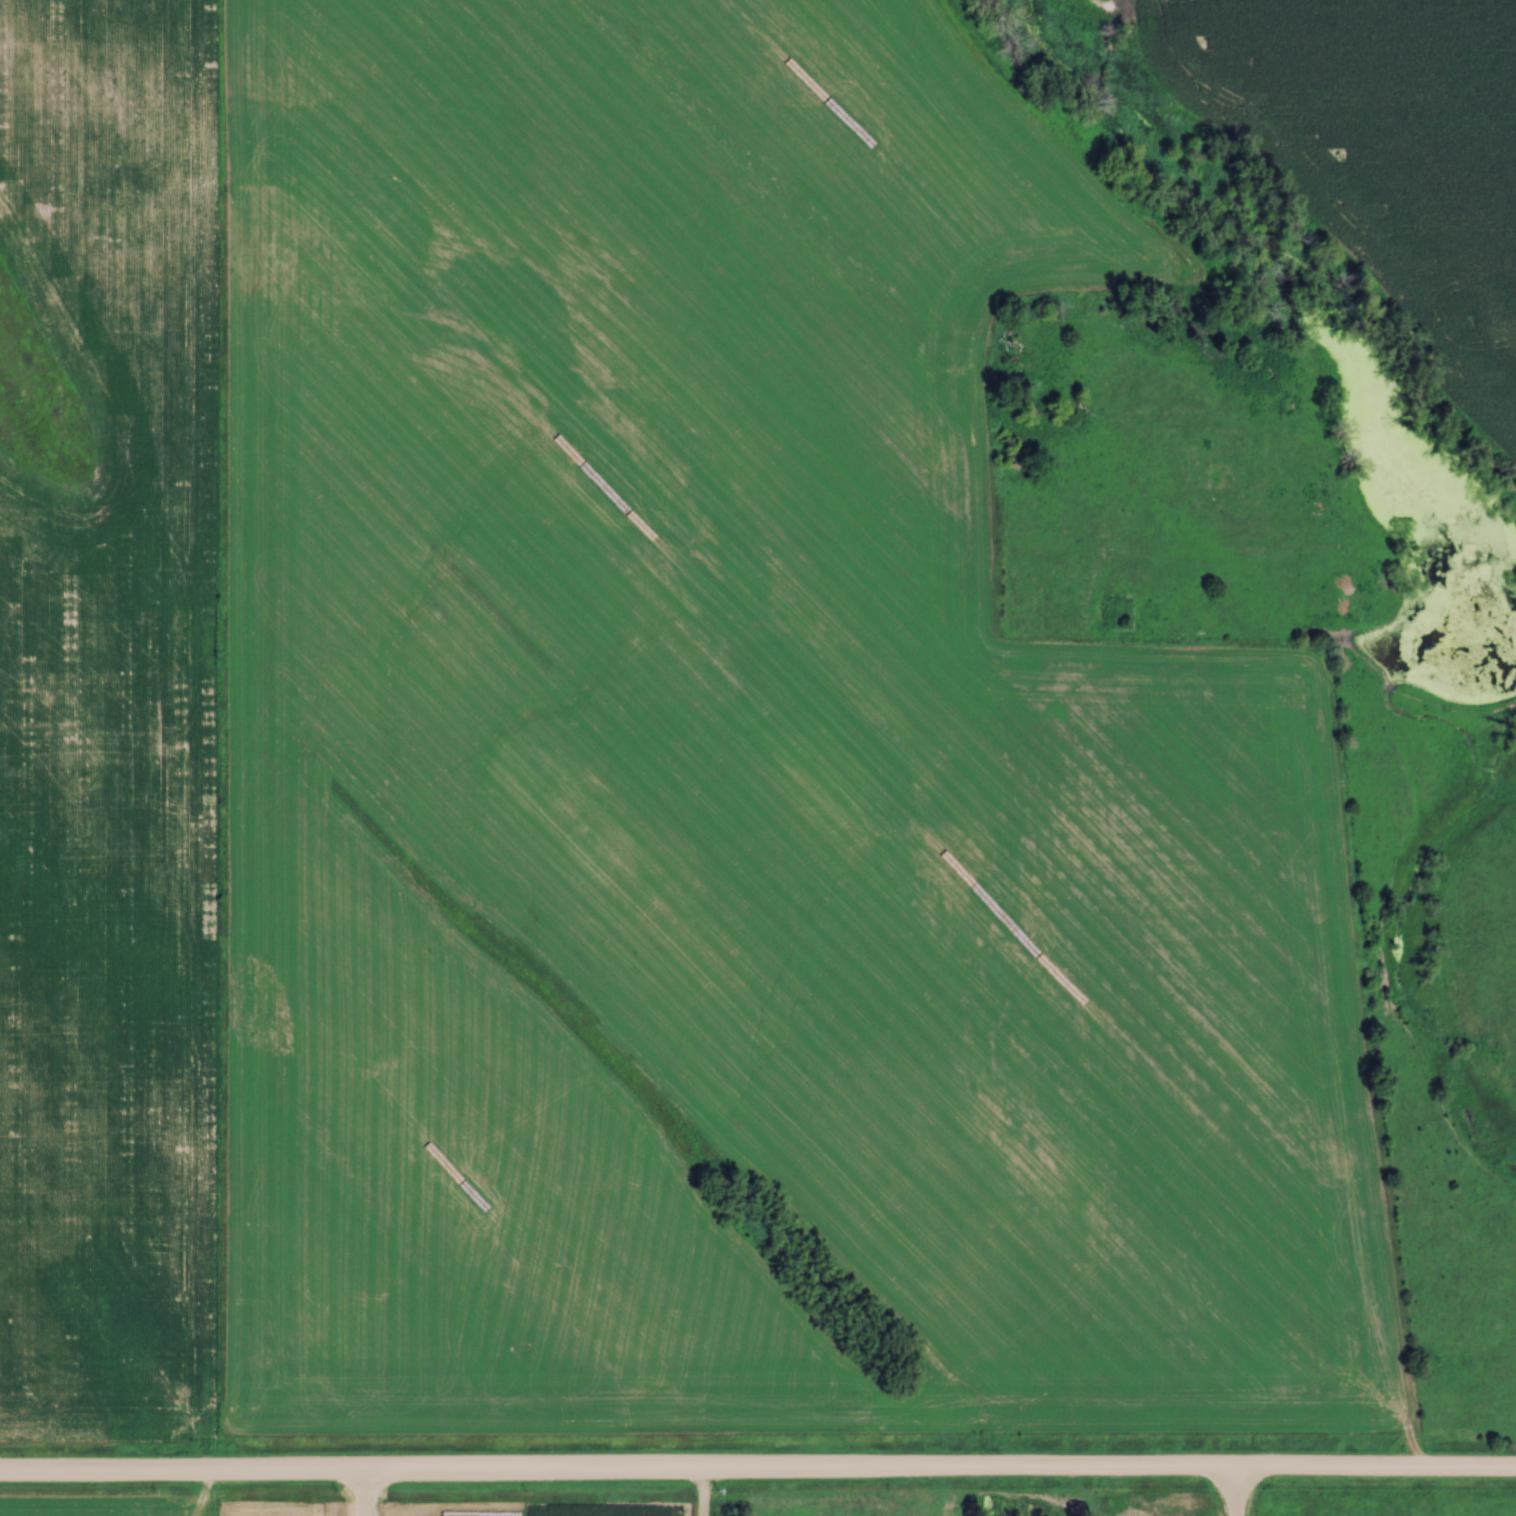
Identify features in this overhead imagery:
road: (758, 1471)
road: (1236, 1493)

